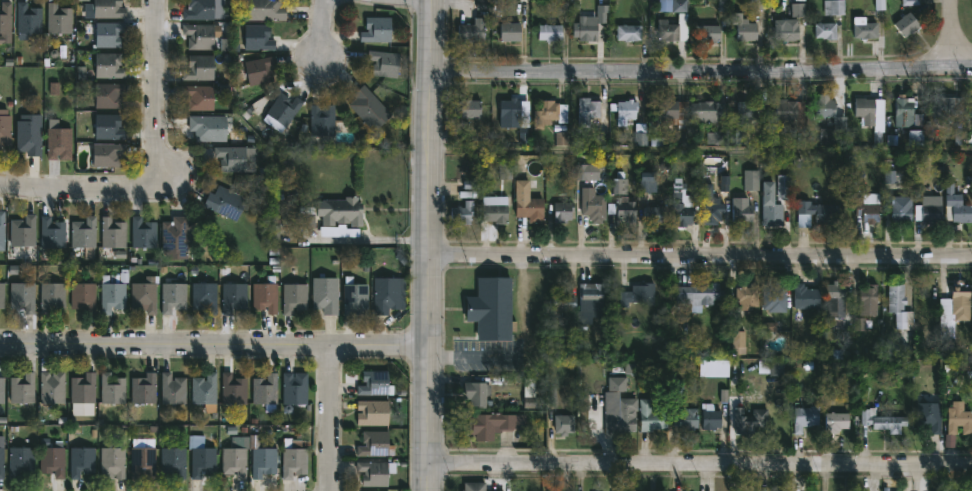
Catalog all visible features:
road: (636, 2)
building: (835, 7)
building: (108, 9)
building: (199, 10)
building: (265, 10)
building: (28, 19)
building: (59, 19)
building: (6, 23)
building: (907, 25)
building: (588, 28)
building: (744, 28)
building: (512, 29)
building: (865, 29)
building: (377, 30)
building: (473, 30)
building: (788, 30)
building: (827, 30)
building: (672, 31)
building: (550, 32)
building: (630, 32)
building: (708, 33)
building: (109, 34)
road: (319, 34)
road: (950, 34)
building: (199, 36)
building: (258, 38)
building: (384, 63)
building: (110, 66)
building: (200, 69)
building: (260, 70)
road: (702, 74)
road: (158, 93)
building: (109, 95)
building: (199, 97)
building: (369, 108)
building: (826, 108)
building: (944, 108)
building: (471, 109)
building: (510, 109)
building: (667, 110)
building: (588, 111)
building: (627, 111)
building: (746, 111)
building: (282, 112)
building: (708, 112)
building: (971, 113)
building: (546, 114)
building: (907, 114)
building: (971, 115)
building: (870, 116)
building: (323, 120)
building: (786, 124)
building: (109, 127)
building: (209, 127)
building: (5, 128)
building: (29, 134)
building: (58, 142)
road: (703, 151)
building: (108, 155)
building: (236, 159)
building: (588, 170)
building: (752, 180)
building: (785, 186)
road: (79, 192)
building: (225, 203)
building: (593, 204)
building: (682, 205)
building: (771, 205)
building: (957, 205)
building: (711, 206)
building: (530, 208)
building: (626, 208)
building: (903, 208)
building: (932, 209)
building: (563, 210)
building: (743, 210)
building: (342, 211)
building: (868, 211)
building: (463, 212)
building: (495, 212)
building: (818, 213)
building: (651, 214)
building: (307, 216)
building: (2, 226)
building: (24, 230)
building: (52, 232)
building: (113, 232)
building: (143, 232)
building: (84, 235)
building: (176, 237)
road: (431, 245)
road: (701, 258)
building: (325, 293)
building: (700, 293)
building: (2, 294)
building: (111, 294)
building: (638, 294)
building: (145, 295)
building: (266, 295)
building: (834, 295)
building: (23, 296)
building: (52, 296)
building: (83, 296)
building: (204, 296)
building: (389, 296)
building: (748, 296)
building: (775, 296)
building: (807, 296)
building: (174, 297)
building: (234, 297)
building: (295, 297)
building: (355, 297)
building: (592, 298)
building: (869, 300)
building: (562, 301)
building: (961, 301)
building: (902, 306)
building: (492, 308)
road: (214, 346)
building: (375, 383)
building: (52, 386)
building: (22, 387)
building: (295, 387)
building: (112, 388)
building: (143, 388)
building: (173, 388)
building: (205, 388)
building: (1, 389)
building: (234, 389)
building: (266, 391)
building: (477, 392)
building: (83, 395)
building: (373, 412)
building: (618, 413)
building: (653, 416)
building: (930, 416)
building: (806, 417)
building: (686, 418)
building: (959, 418)
road: (333, 419)
building: (716, 419)
building: (752, 420)
building: (836, 421)
building: (884, 421)
building: (495, 424)
building: (564, 424)
building: (375, 443)
building: (2, 456)
building: (294, 457)
building: (143, 458)
building: (262, 458)
building: (112, 459)
building: (20, 460)
building: (53, 460)
building: (203, 460)
building: (82, 461)
building: (174, 461)
building: (235, 461)
road: (700, 468)
building: (375, 473)
building: (475, 486)
building: (917, 489)

